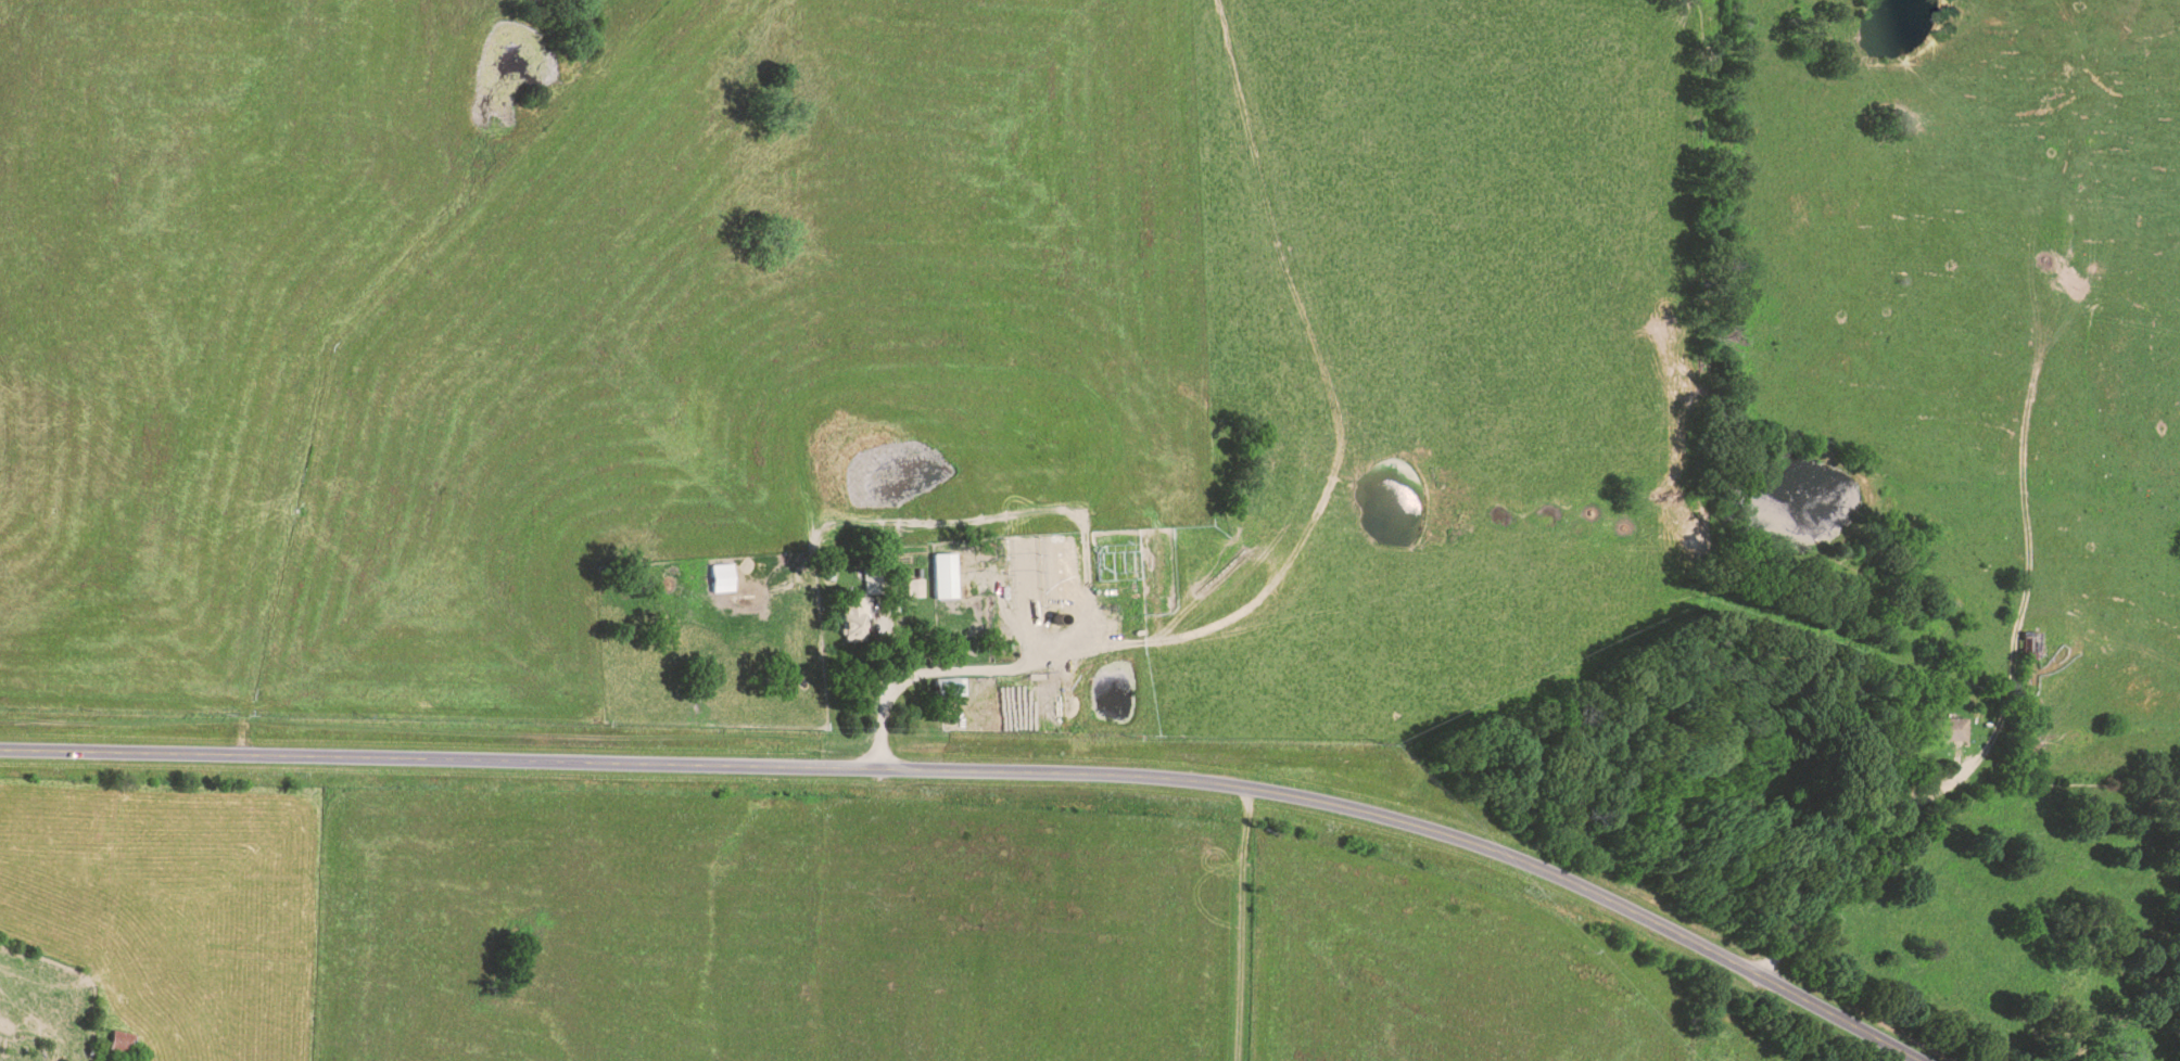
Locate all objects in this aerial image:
building: (941, 575)
building: (719, 577)
building: (911, 587)
building: (850, 622)
building: (948, 686)
building: (1951, 728)
road: (986, 771)
road: (1864, 877)

